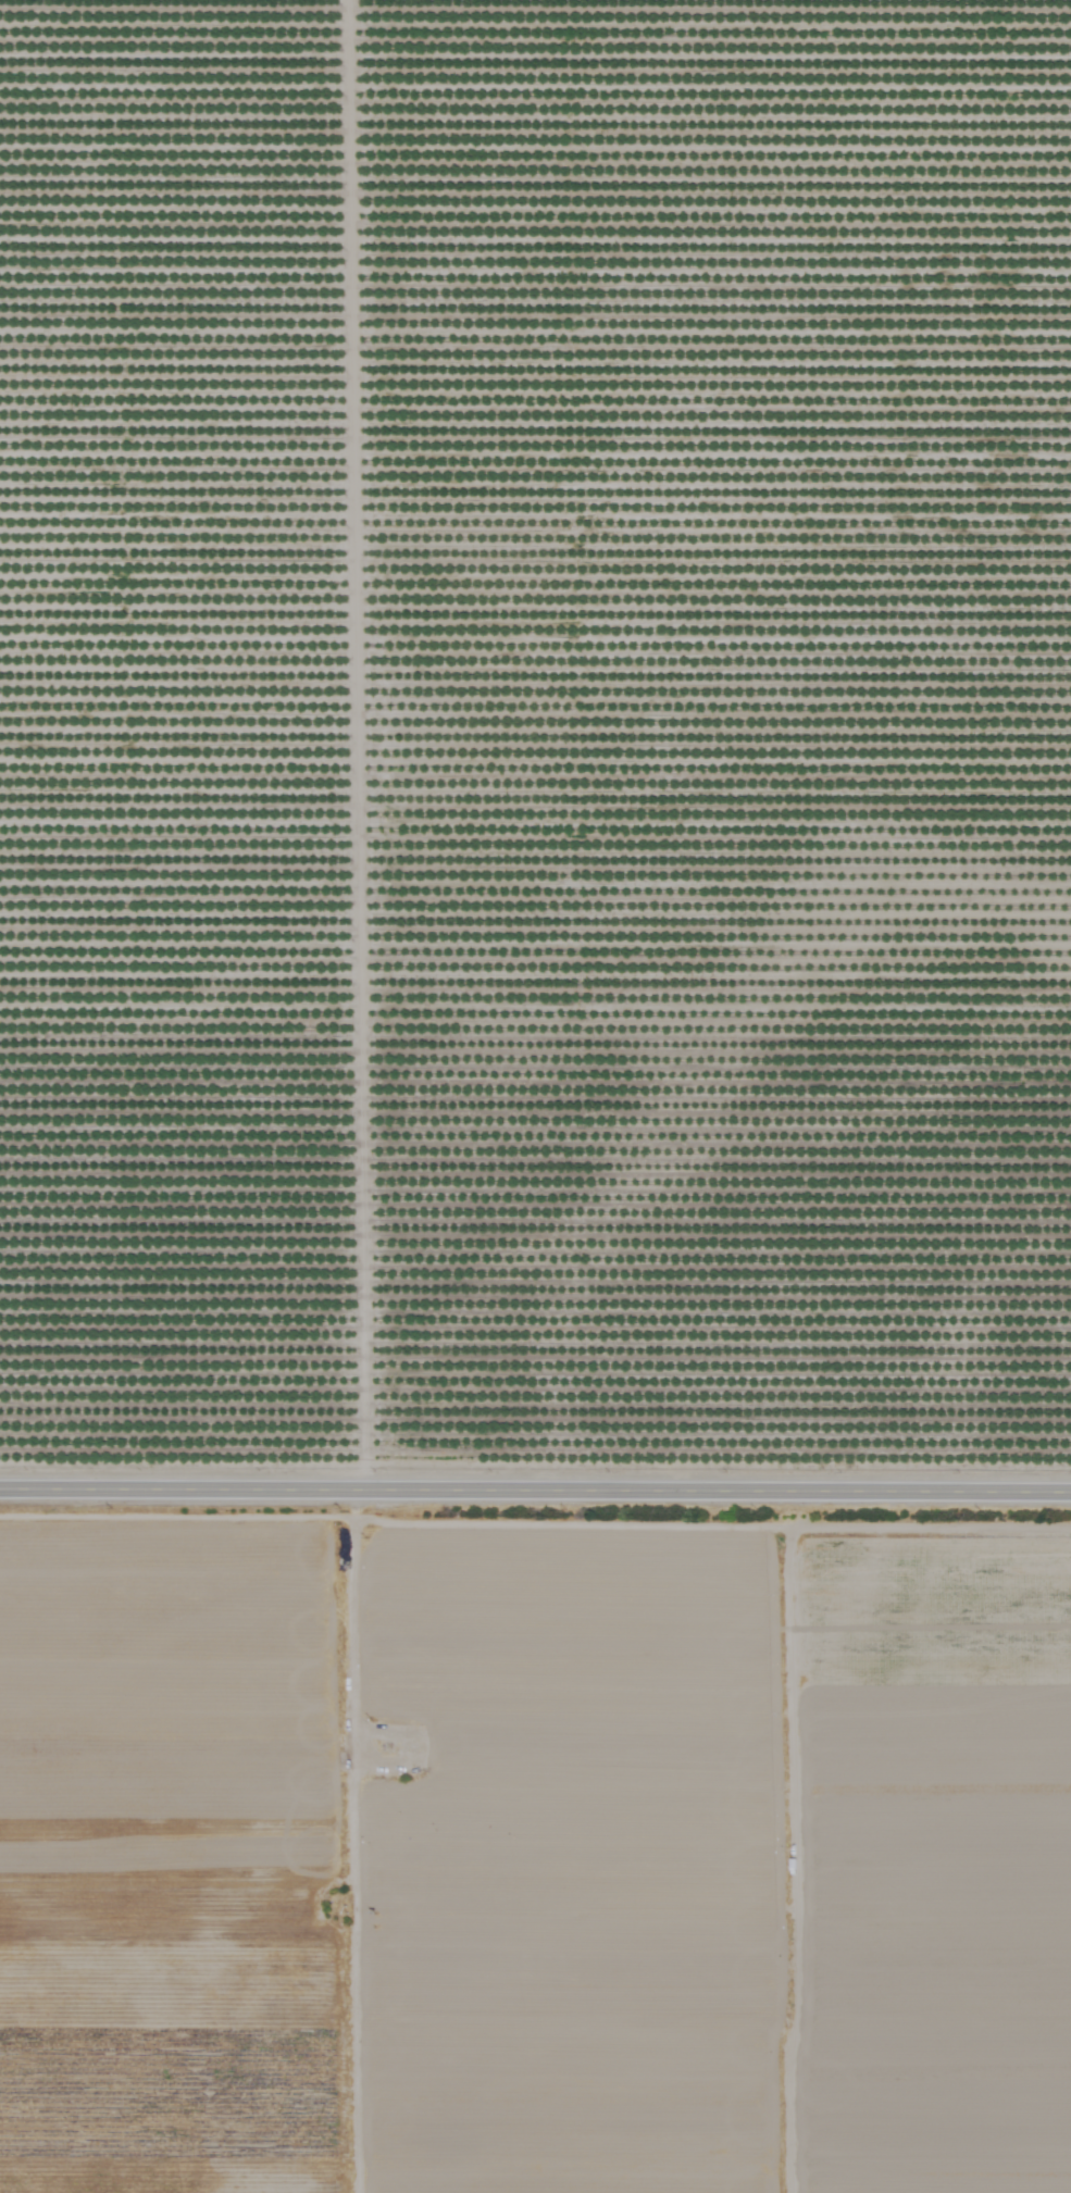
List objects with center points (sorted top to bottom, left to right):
road: (357, 1096)
road: (535, 1491)

